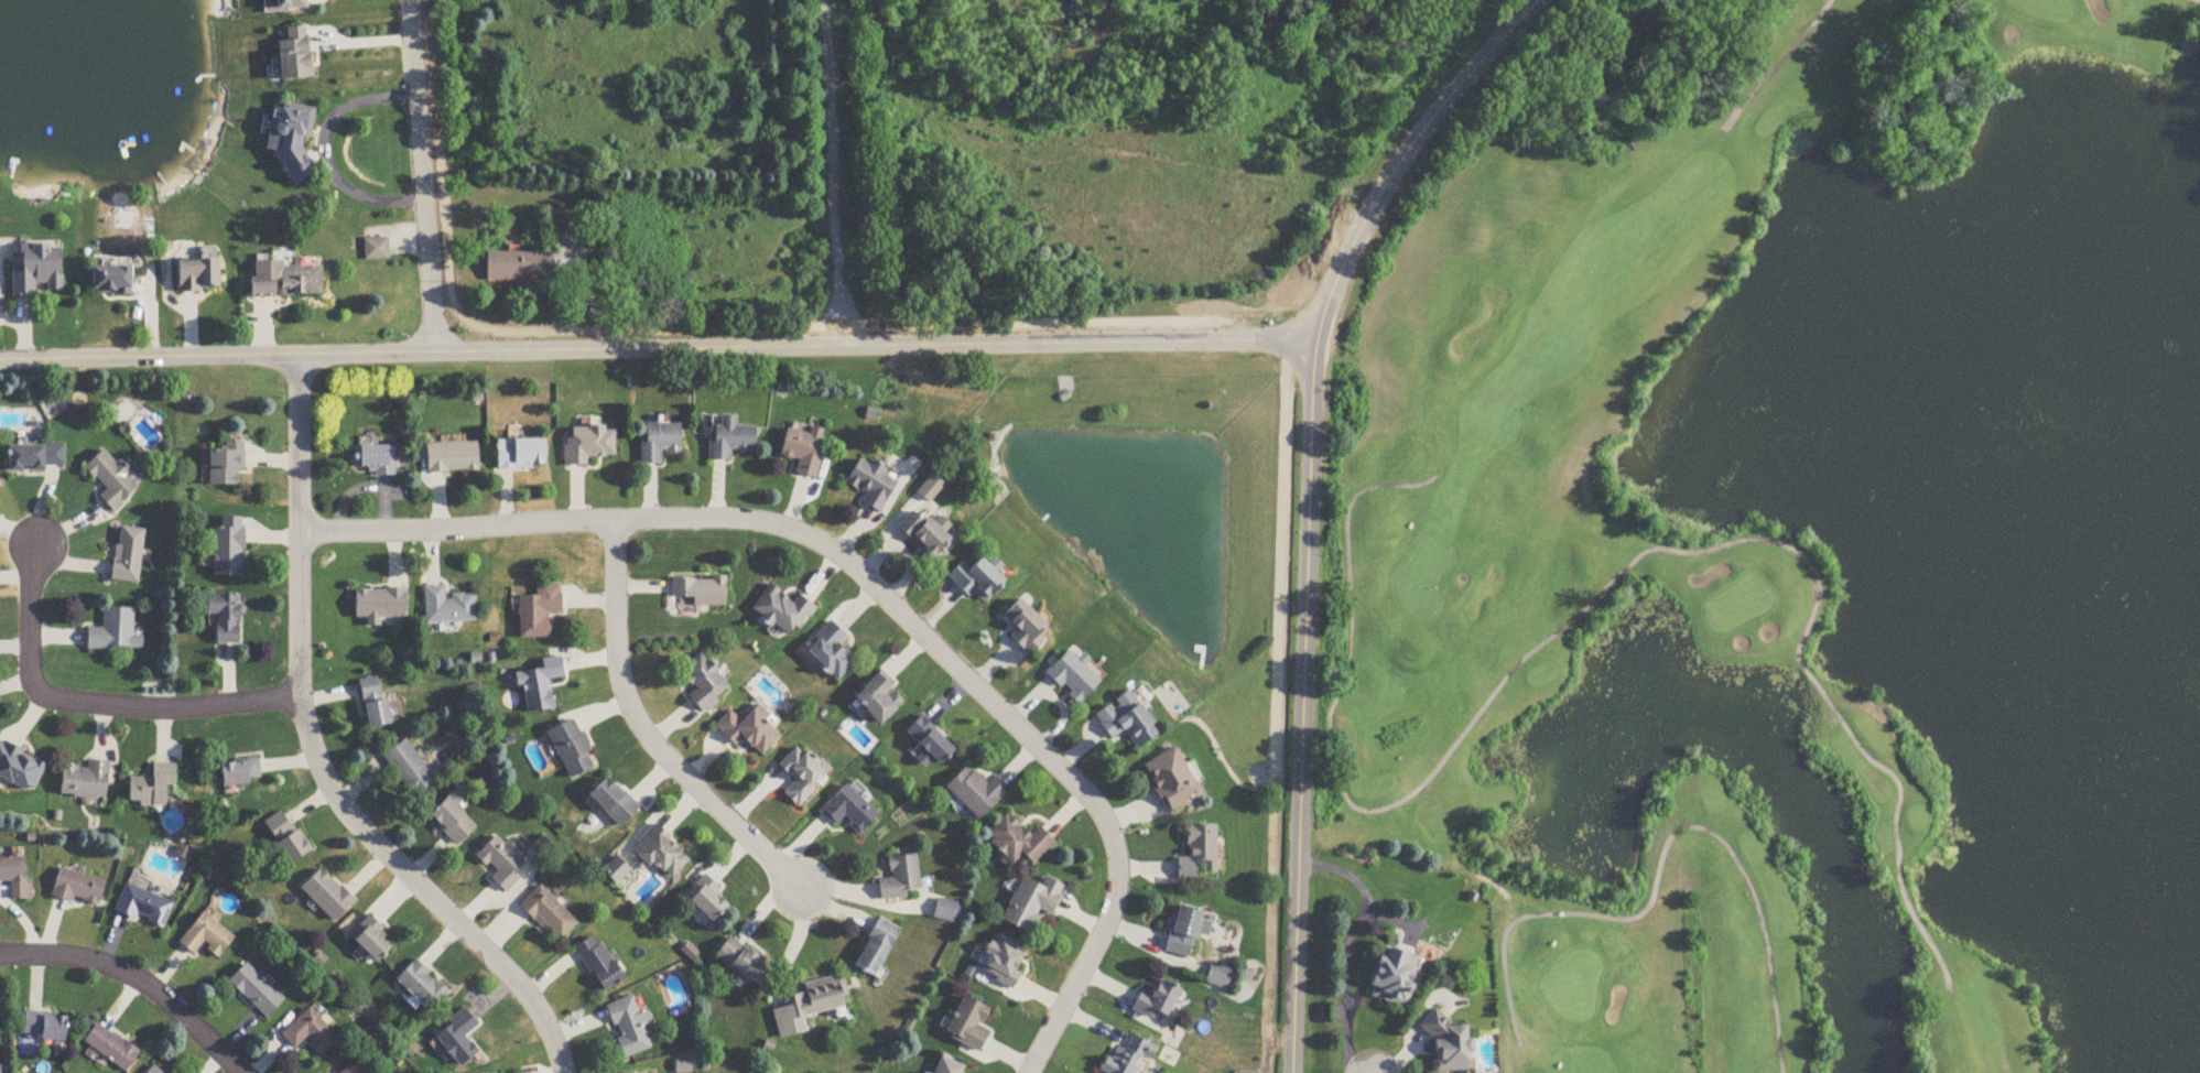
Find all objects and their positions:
building: (288, 4)
building: (294, 55)
building: (290, 138)
road: (325, 150)
road: (1404, 158)
road: (827, 166)
road: (426, 176)
building: (376, 250)
building: (518, 267)
building: (37, 270)
building: (197, 277)
building: (110, 281)
building: (284, 281)
road: (658, 349)
building: (728, 438)
building: (659, 442)
building: (588, 445)
building: (803, 448)
building: (521, 454)
building: (34, 458)
building: (452, 458)
building: (375, 460)
building: (226, 464)
building: (111, 480)
building: (871, 484)
building: (931, 488)
building: (925, 533)
park: (1796, 536)
building: (228, 552)
building: (128, 555)
building: (976, 579)
building: (701, 592)
road: (877, 592)
building: (380, 606)
building: (447, 608)
building: (783, 611)
building: (539, 613)
building: (225, 617)
building: (1025, 628)
building: (115, 633)
building: (831, 651)
building: (1072, 679)
building: (704, 683)
building: (541, 686)
building: (878, 702)
building: (373, 704)
road: (94, 705)
road: (1303, 708)
building: (1127, 723)
building: (748, 733)
road: (643, 734)
building: (929, 745)
building: (572, 750)
road: (315, 758)
building: (20, 770)
building: (409, 770)
building: (240, 774)
building: (803, 774)
building: (86, 781)
building: (1171, 781)
building: (151, 788)
building: (974, 793)
building: (614, 803)
building: (848, 811)
building: (452, 823)
building: (285, 839)
building: (1019, 843)
building: (660, 853)
building: (1197, 855)
building: (500, 863)
building: (15, 879)
building: (900, 880)
building: (77, 889)
building: (327, 896)
building: (705, 900)
road: (863, 900)
building: (1031, 904)
building: (143, 908)
building: (945, 912)
building: (548, 915)
building: (1185, 932)
building: (206, 939)
building: (370, 941)
road: (1345, 945)
building: (876, 950)
building: (1003, 961)
building: (598, 964)
building: (743, 964)
building: (1218, 977)
road: (136, 978)
building: (1394, 978)
building: (422, 987)
building: (256, 991)
building: (1156, 1002)
building: (813, 1004)
building: (968, 1026)
building: (44, 1027)
building: (629, 1028)
building: (310, 1033)
building: (457, 1039)
building: (1446, 1044)
building: (110, 1048)
building: (1129, 1058)
building: (947, 1066)
building: (356, 1069)
building: (153, 1071)

